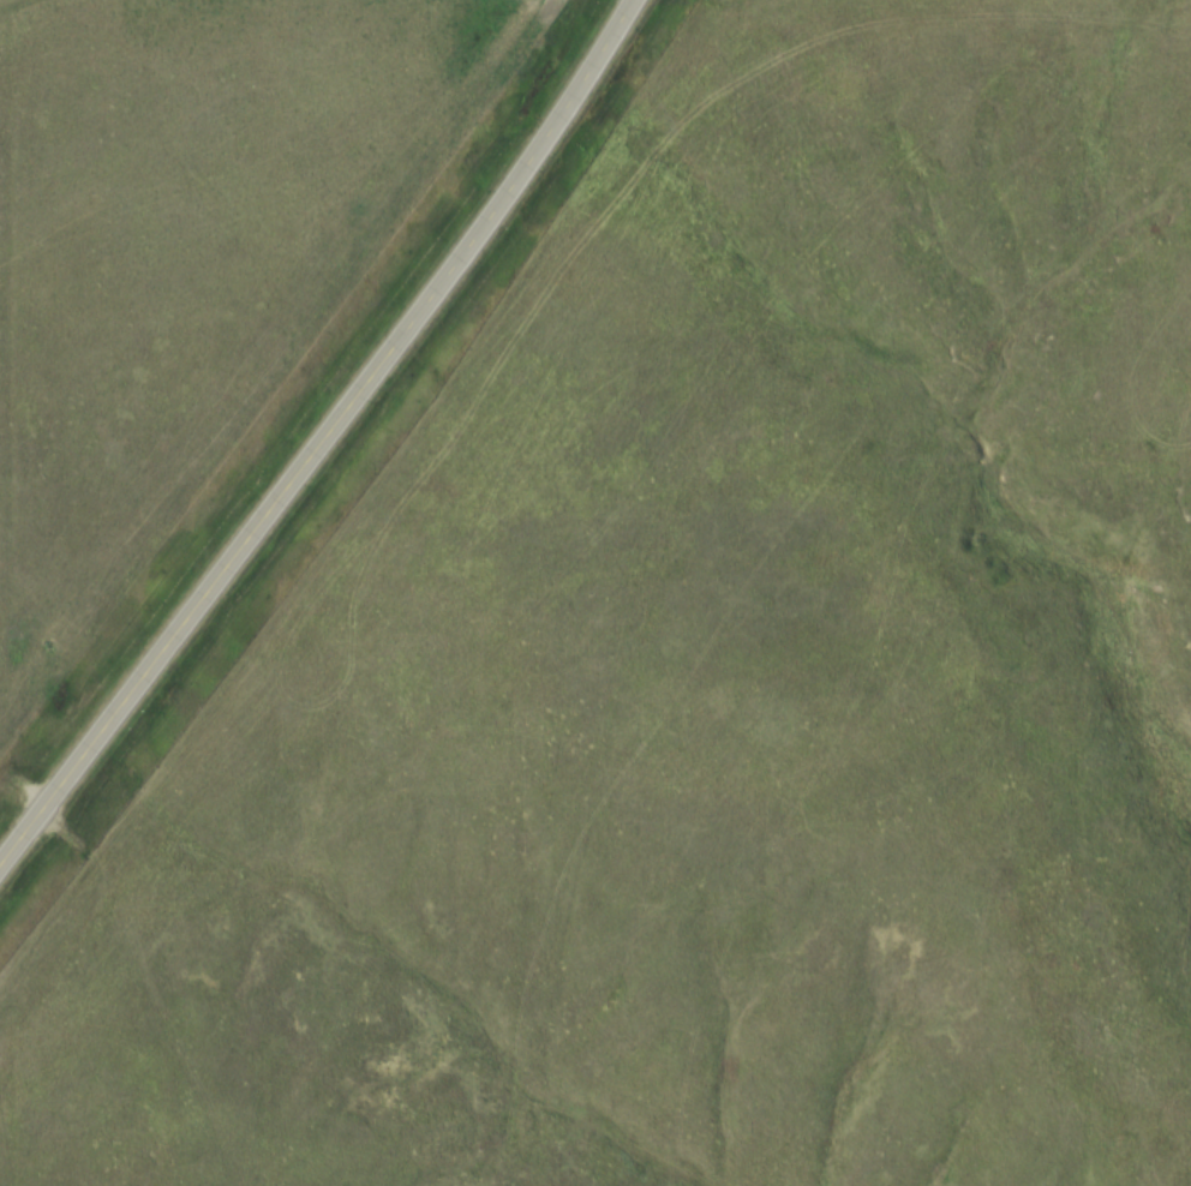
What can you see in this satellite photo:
road: (319, 433)

